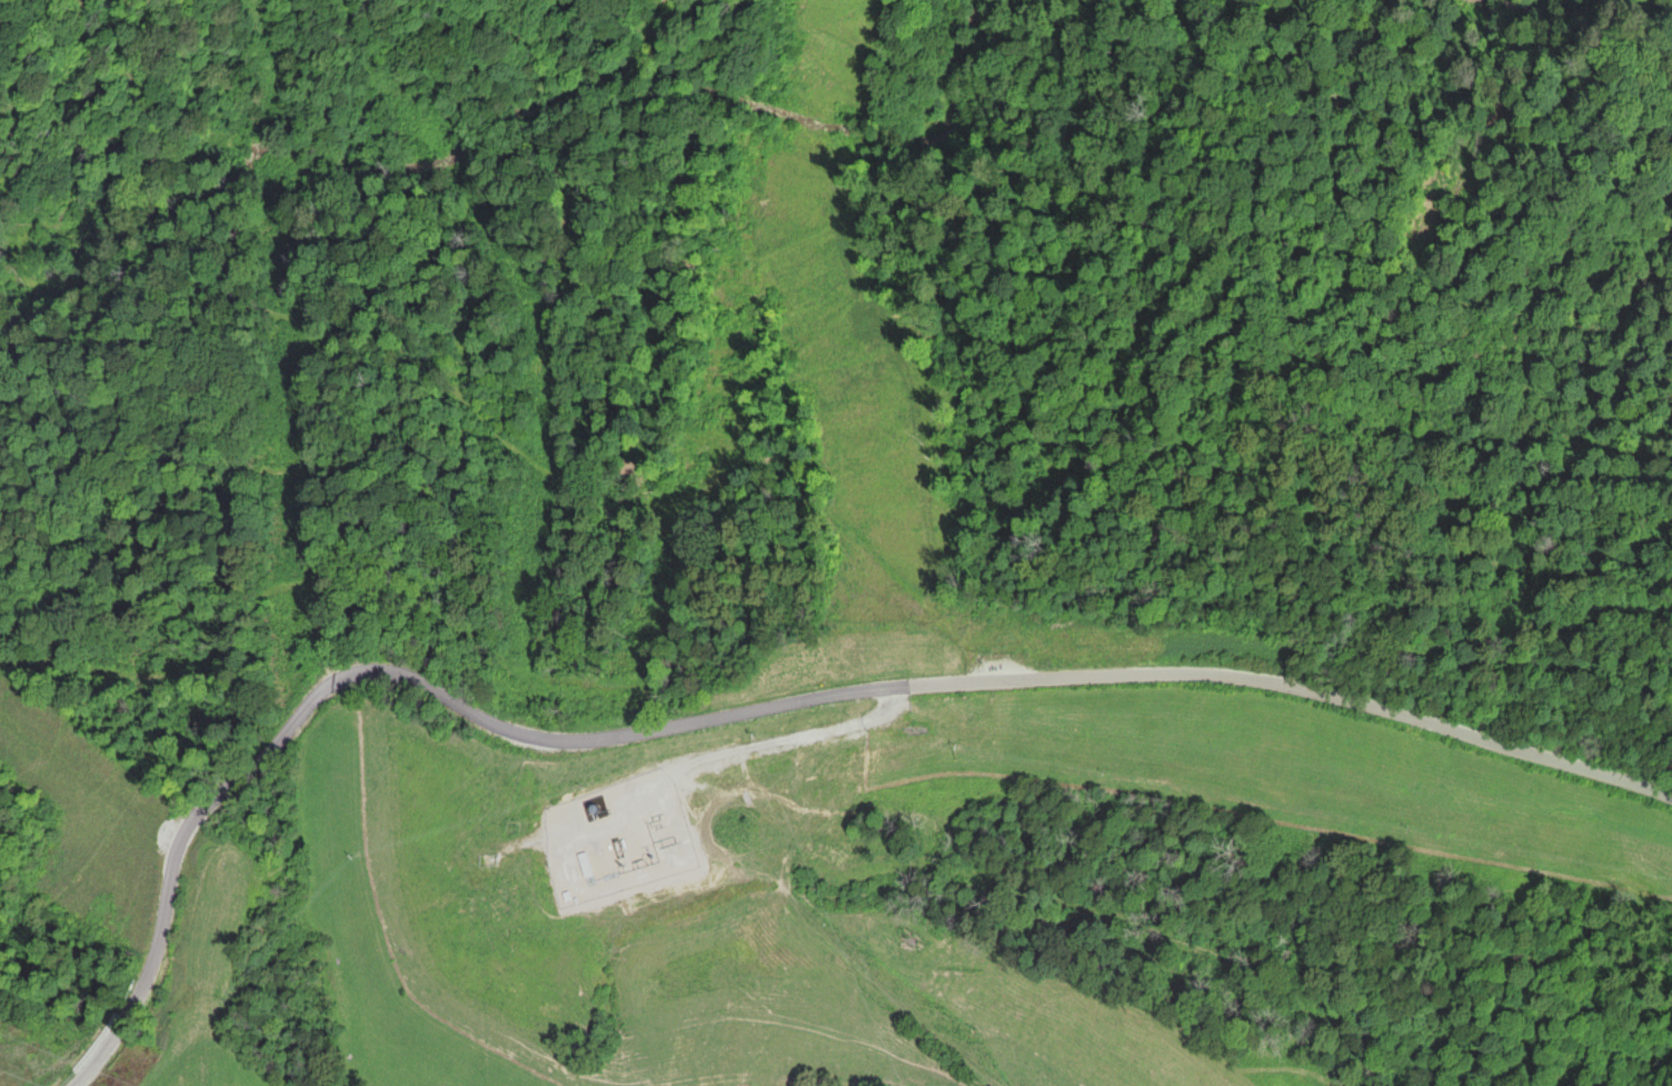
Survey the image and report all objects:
road: (758, 709)

